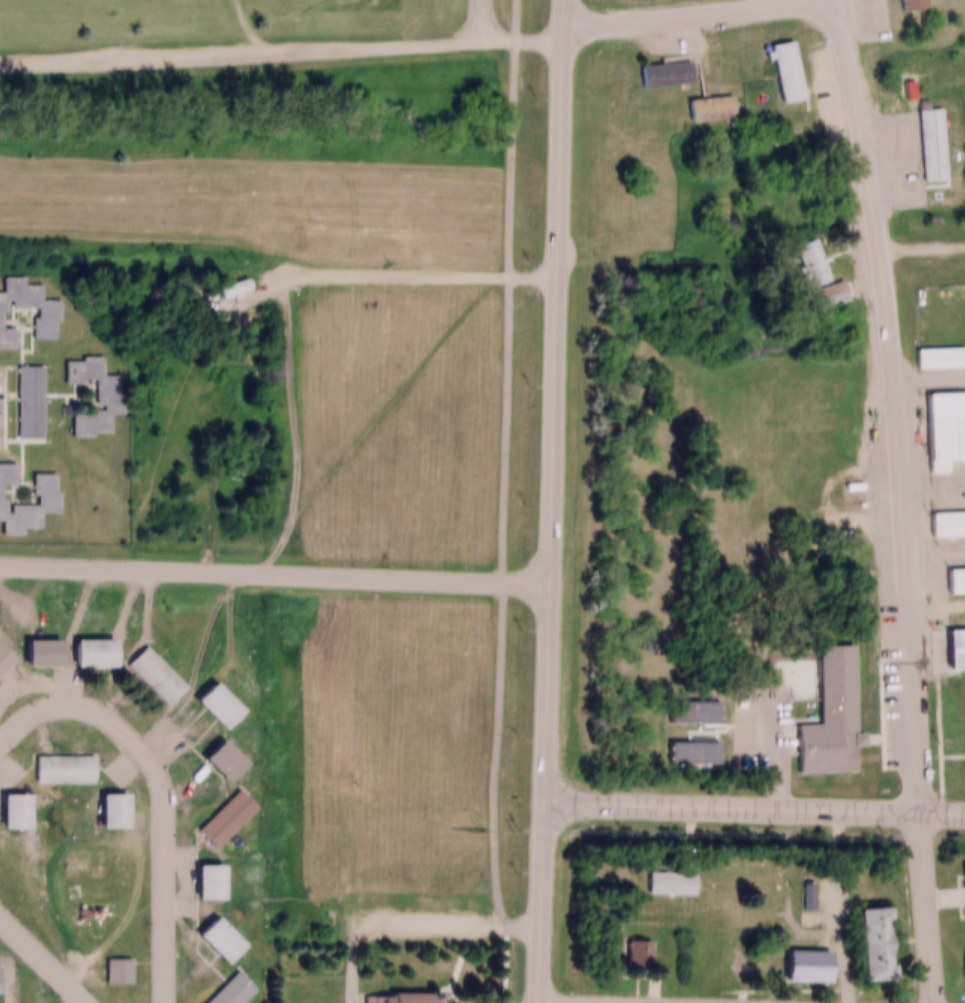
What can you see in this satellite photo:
road: (761, 2)
building: (912, 3)
road: (679, 13)
road: (476, 19)
road: (248, 26)
road: (281, 50)
building: (779, 62)
building: (662, 65)
building: (706, 100)
building: (924, 136)
road: (920, 244)
building: (812, 267)
road: (419, 269)
building: (830, 294)
building: (41, 303)
building: (4, 329)
building: (933, 349)
road: (928, 373)
building: (105, 392)
building: (25, 393)
building: (942, 418)
building: (91, 422)
building: (4, 467)
building: (27, 496)
road: (898, 500)
road: (551, 501)
building: (944, 515)
road: (274, 571)
building: (952, 572)
road: (935, 604)
building: (952, 640)
building: (34, 644)
building: (85, 644)
building: (2, 651)
building: (44, 654)
building: (96, 654)
building: (149, 667)
building: (210, 697)
building: (688, 703)
building: (826, 710)
building: (689, 743)
building: (216, 752)
building: (58, 760)
road: (160, 786)
building: (9, 802)
building: (106, 802)
road: (754, 804)
building: (221, 809)
building: (202, 873)
building: (667, 873)
building: (961, 881)
building: (673, 884)
road: (410, 917)
building: (213, 931)
building: (863, 936)
road: (835, 942)
building: (633, 945)
building: (638, 955)
building: (961, 956)
road: (45, 957)
building: (113, 961)
building: (811, 961)
building: (120, 972)
building: (802, 978)
building: (1, 986)
building: (223, 986)
building: (395, 993)
road: (564, 1002)

